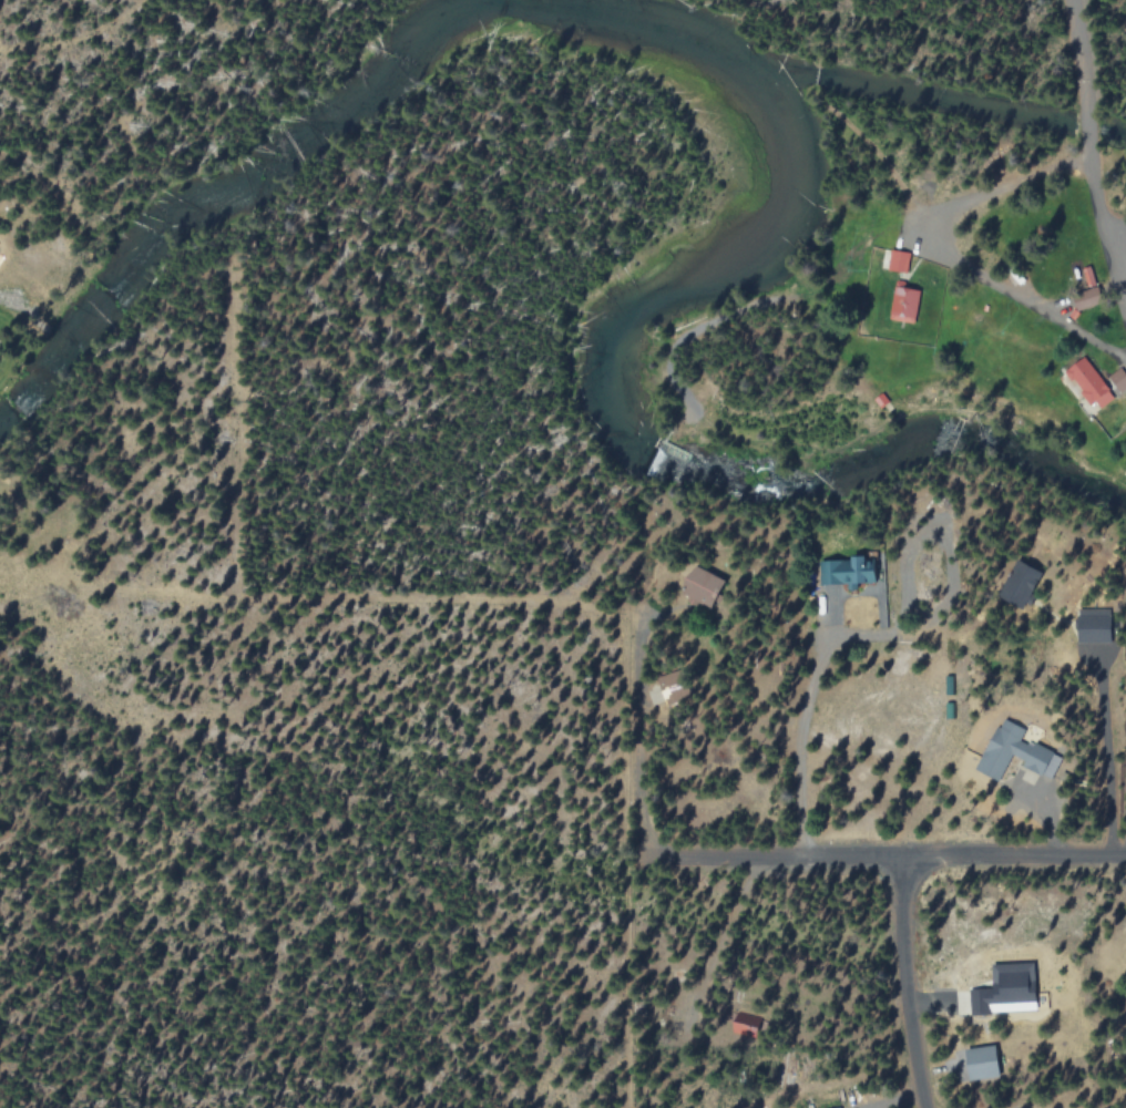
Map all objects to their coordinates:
river: (499, 17)
river: (910, 95)
river: (1091, 127)
river: (1117, 132)
road: (1092, 138)
building: (898, 260)
building: (903, 304)
building: (1089, 383)
building: (703, 586)
road: (642, 738)
building: (1012, 751)
road: (883, 856)
road: (905, 983)
building: (1006, 989)
building: (982, 1061)

